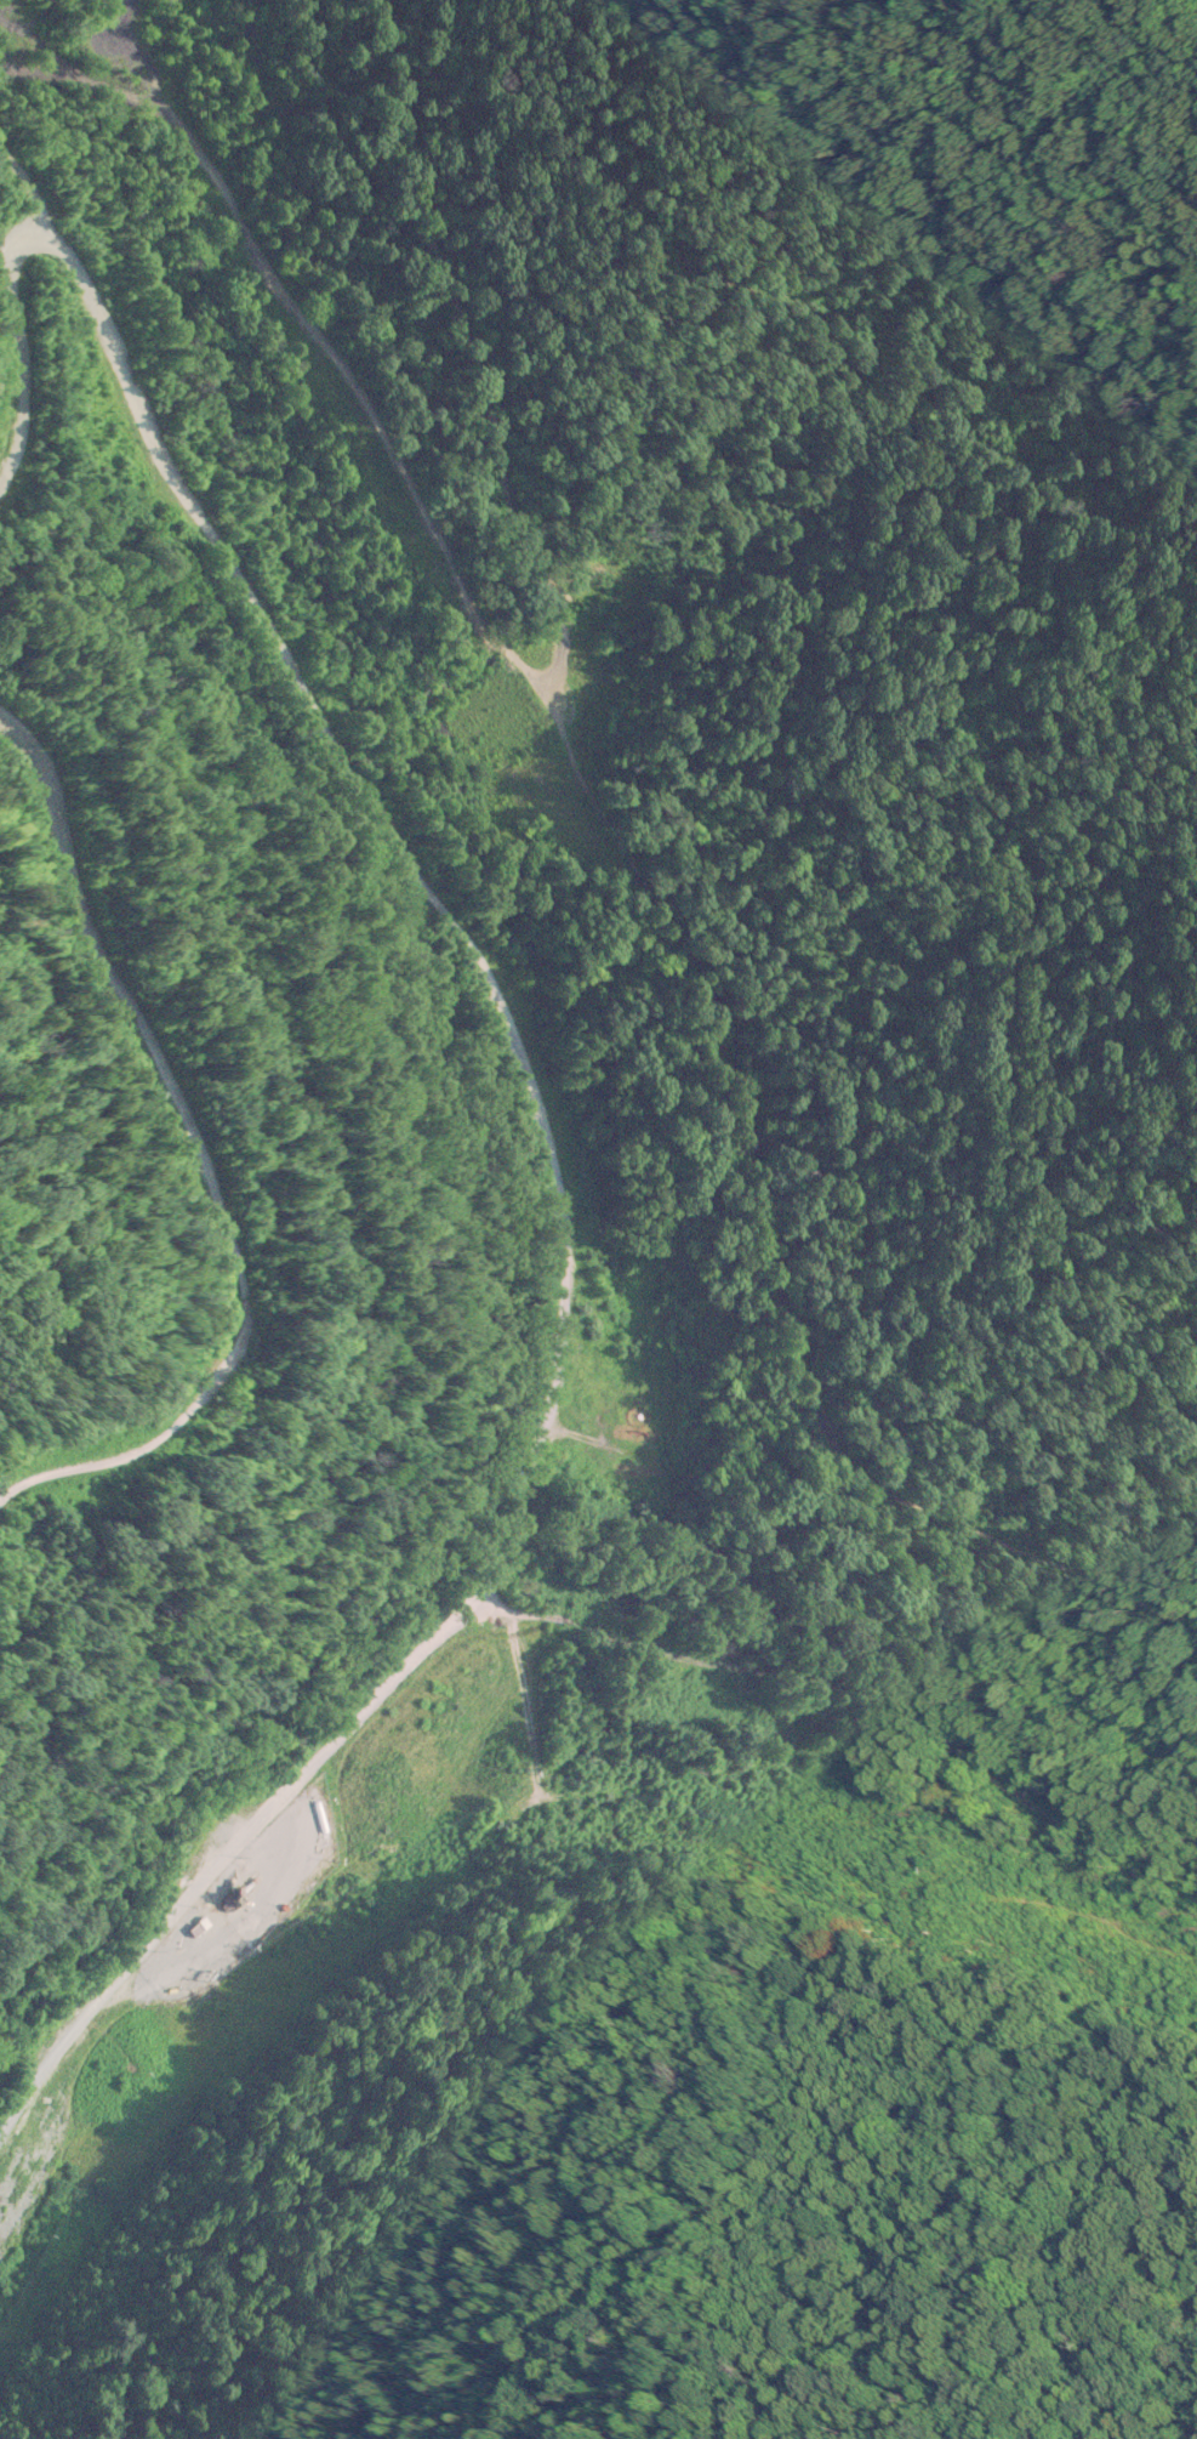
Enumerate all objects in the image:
road: (615, 916)
road: (521, 1221)

